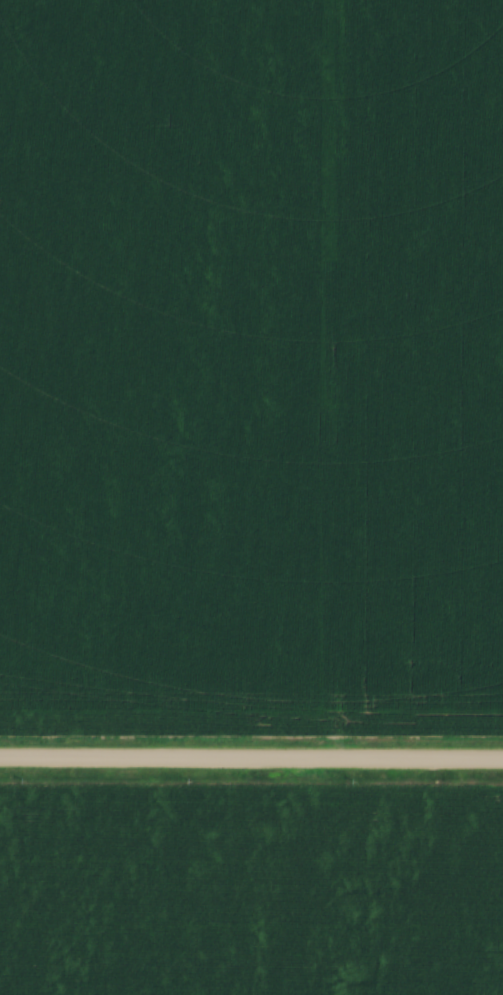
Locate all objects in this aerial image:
road: (251, 767)

